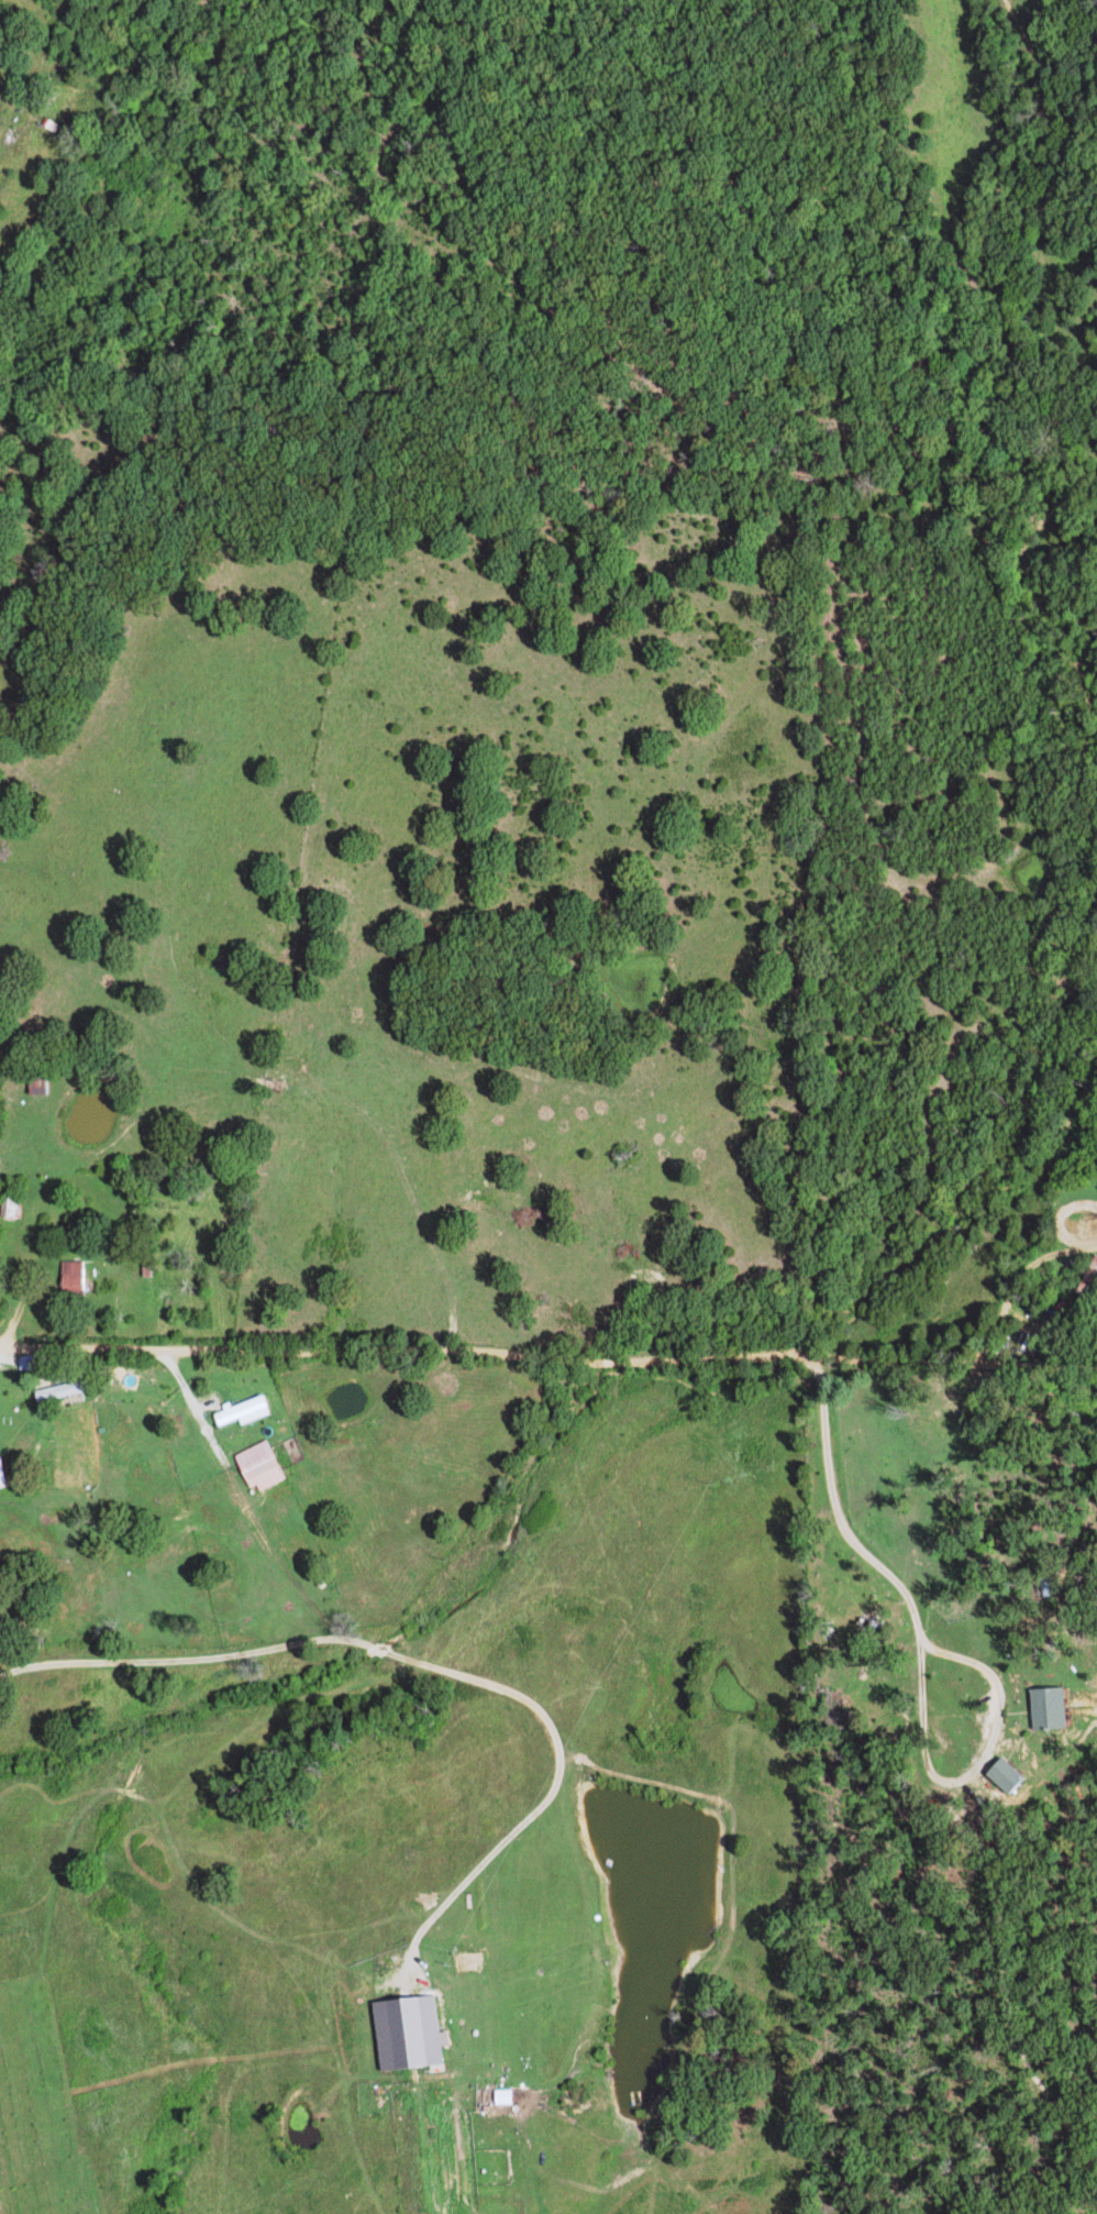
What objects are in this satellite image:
building: (78, 1276)
road: (547, 1377)
building: (248, 1411)
building: (265, 1466)
building: (4, 1474)
building: (1053, 1586)
building: (1053, 1706)
building: (1010, 1773)
building: (413, 2031)
building: (508, 2096)

